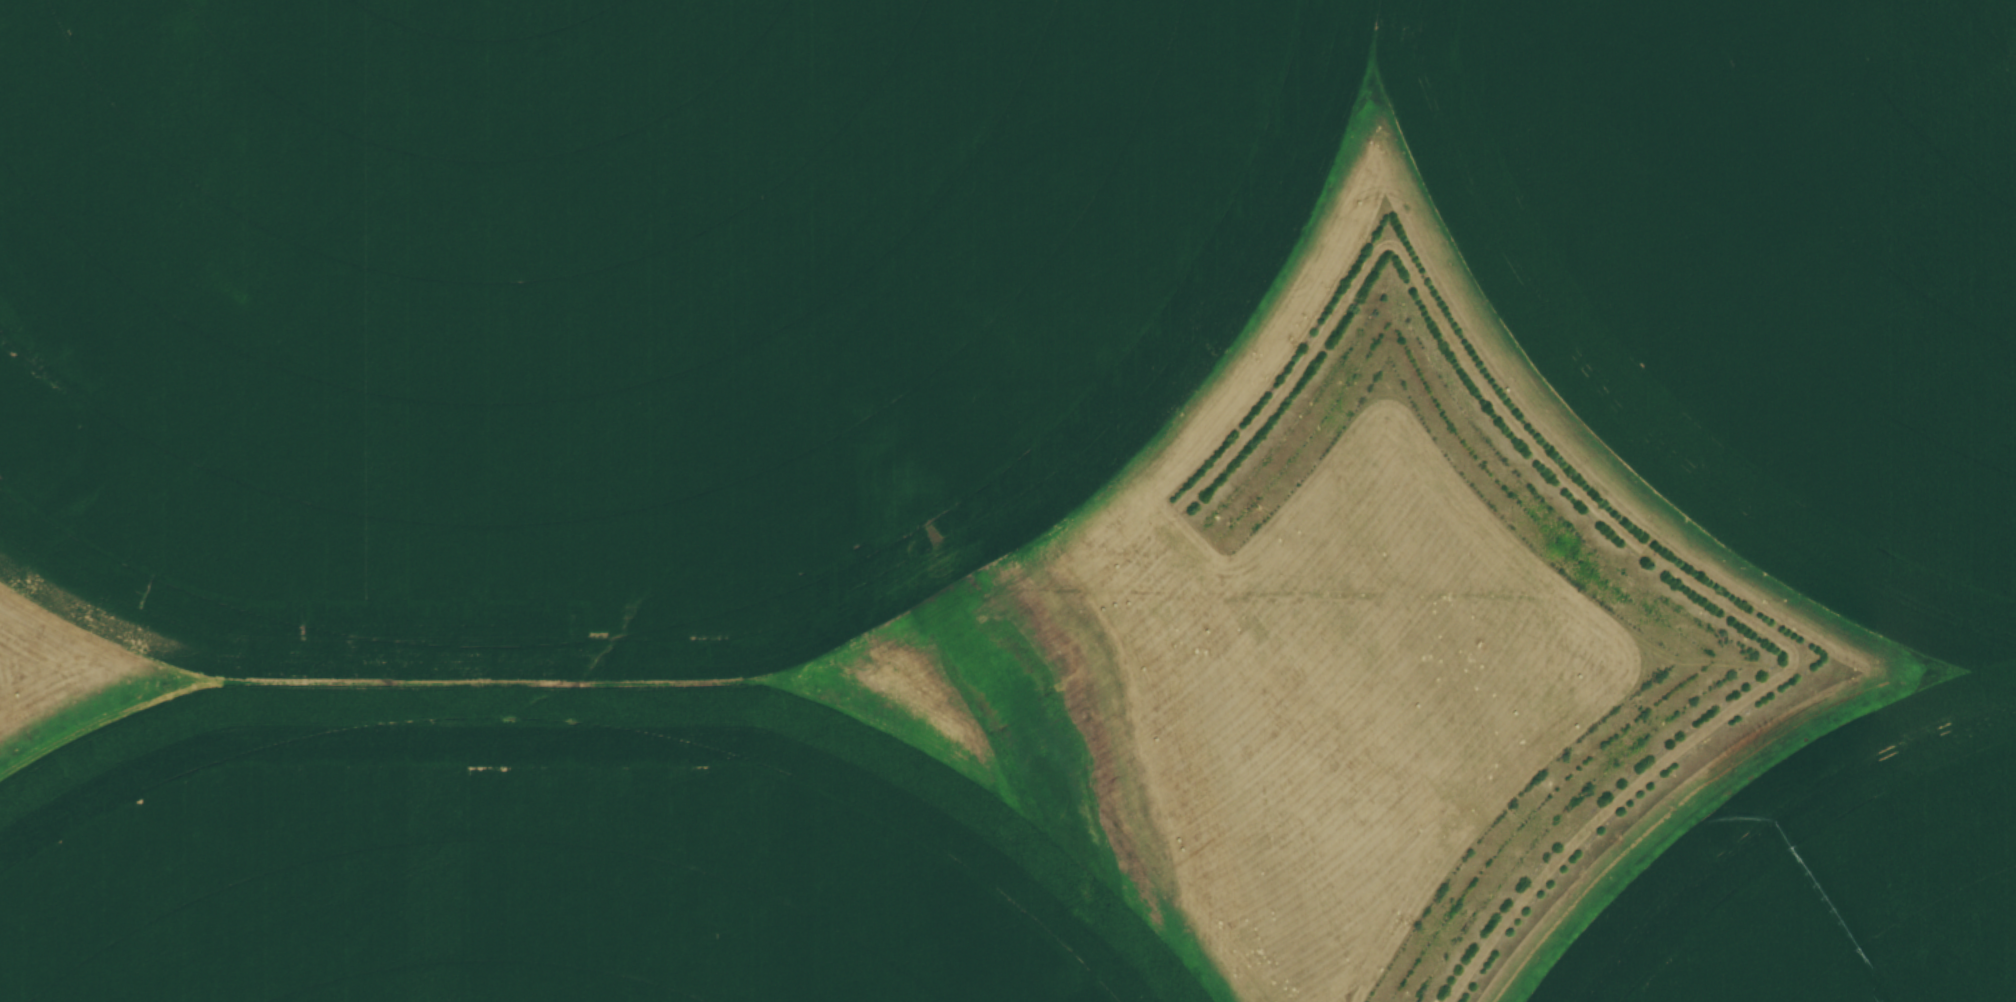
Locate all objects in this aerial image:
building: (139, 777)
building: (45, 830)
building: (8, 986)

